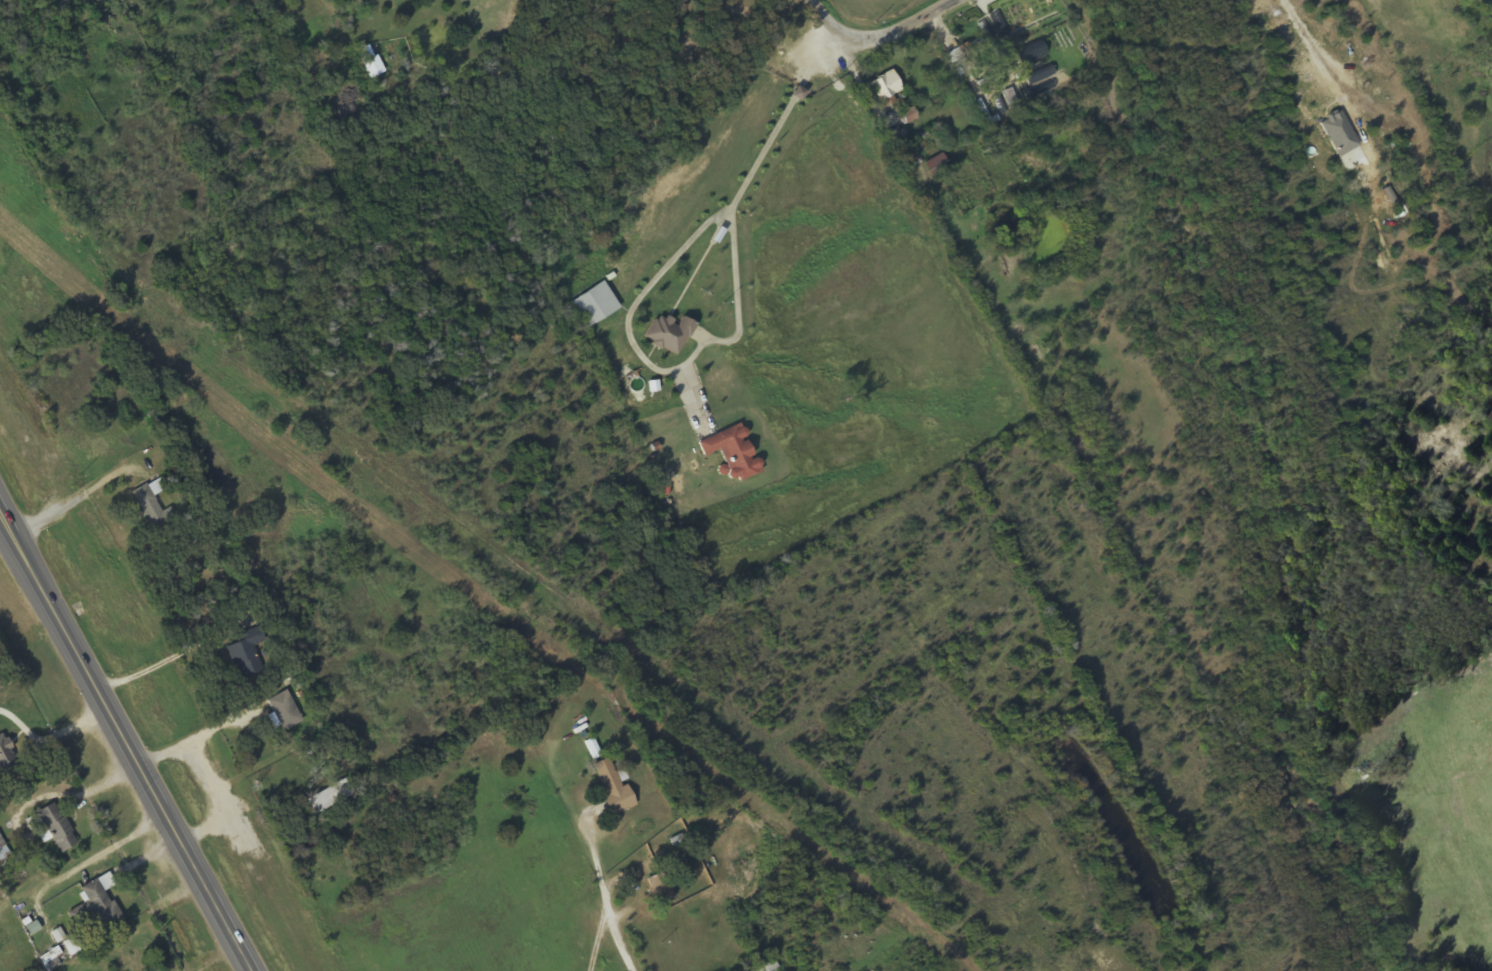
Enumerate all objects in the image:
road: (879, 39)
building: (372, 63)
building: (1037, 69)
building: (885, 85)
building: (937, 166)
building: (594, 305)
building: (668, 334)
building: (731, 453)
building: (151, 507)
building: (246, 653)
building: (284, 711)
road: (124, 743)
building: (13, 760)
building: (611, 786)
building: (57, 828)
building: (69, 831)
building: (4, 856)
building: (659, 890)
building: (111, 902)
building: (72, 947)
building: (51, 960)

